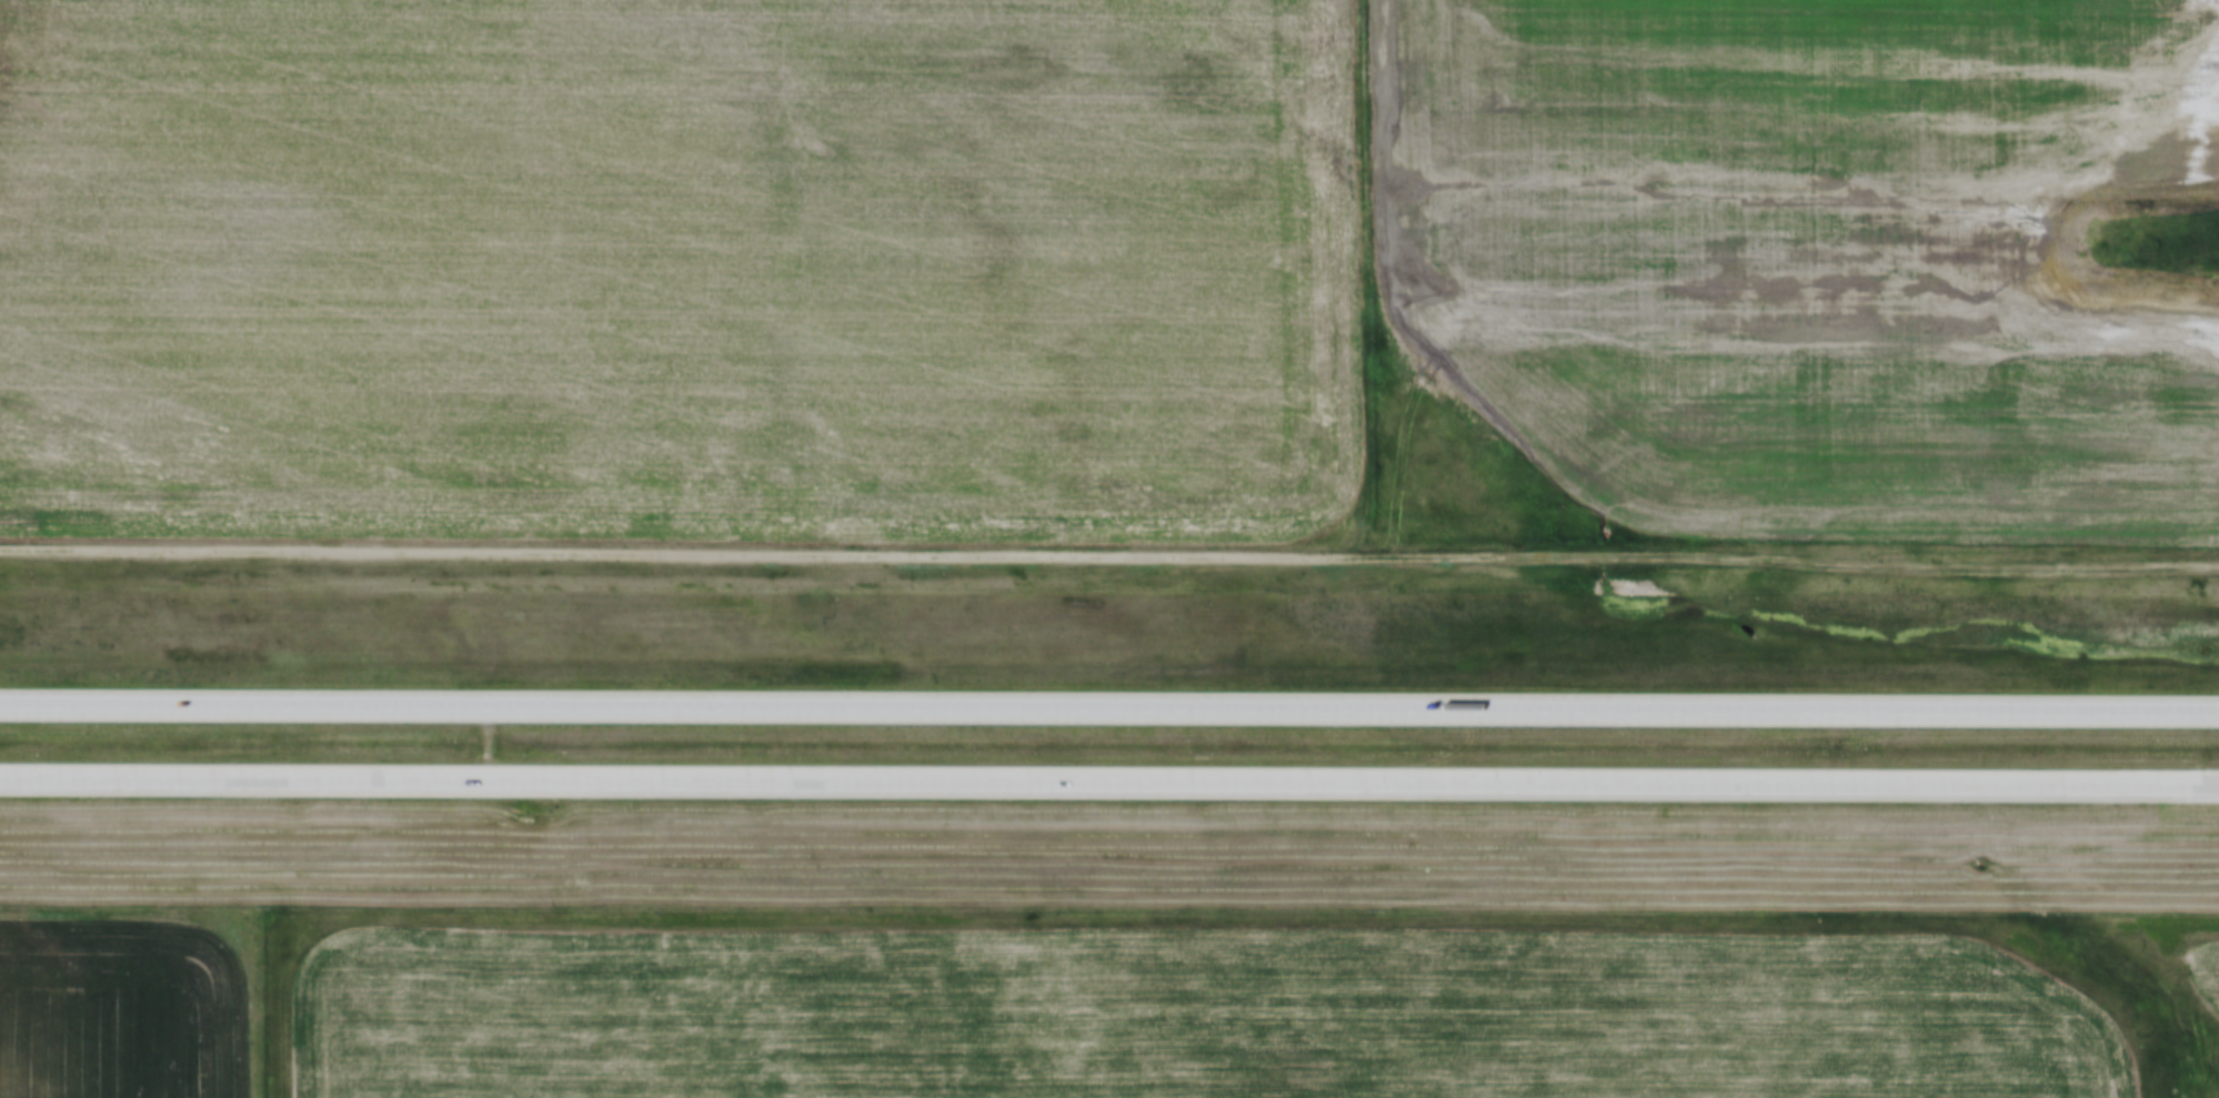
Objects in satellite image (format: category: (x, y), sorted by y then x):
crop: (673, 265)
road: (1109, 552)
road: (1109, 704)
road: (1108, 779)

